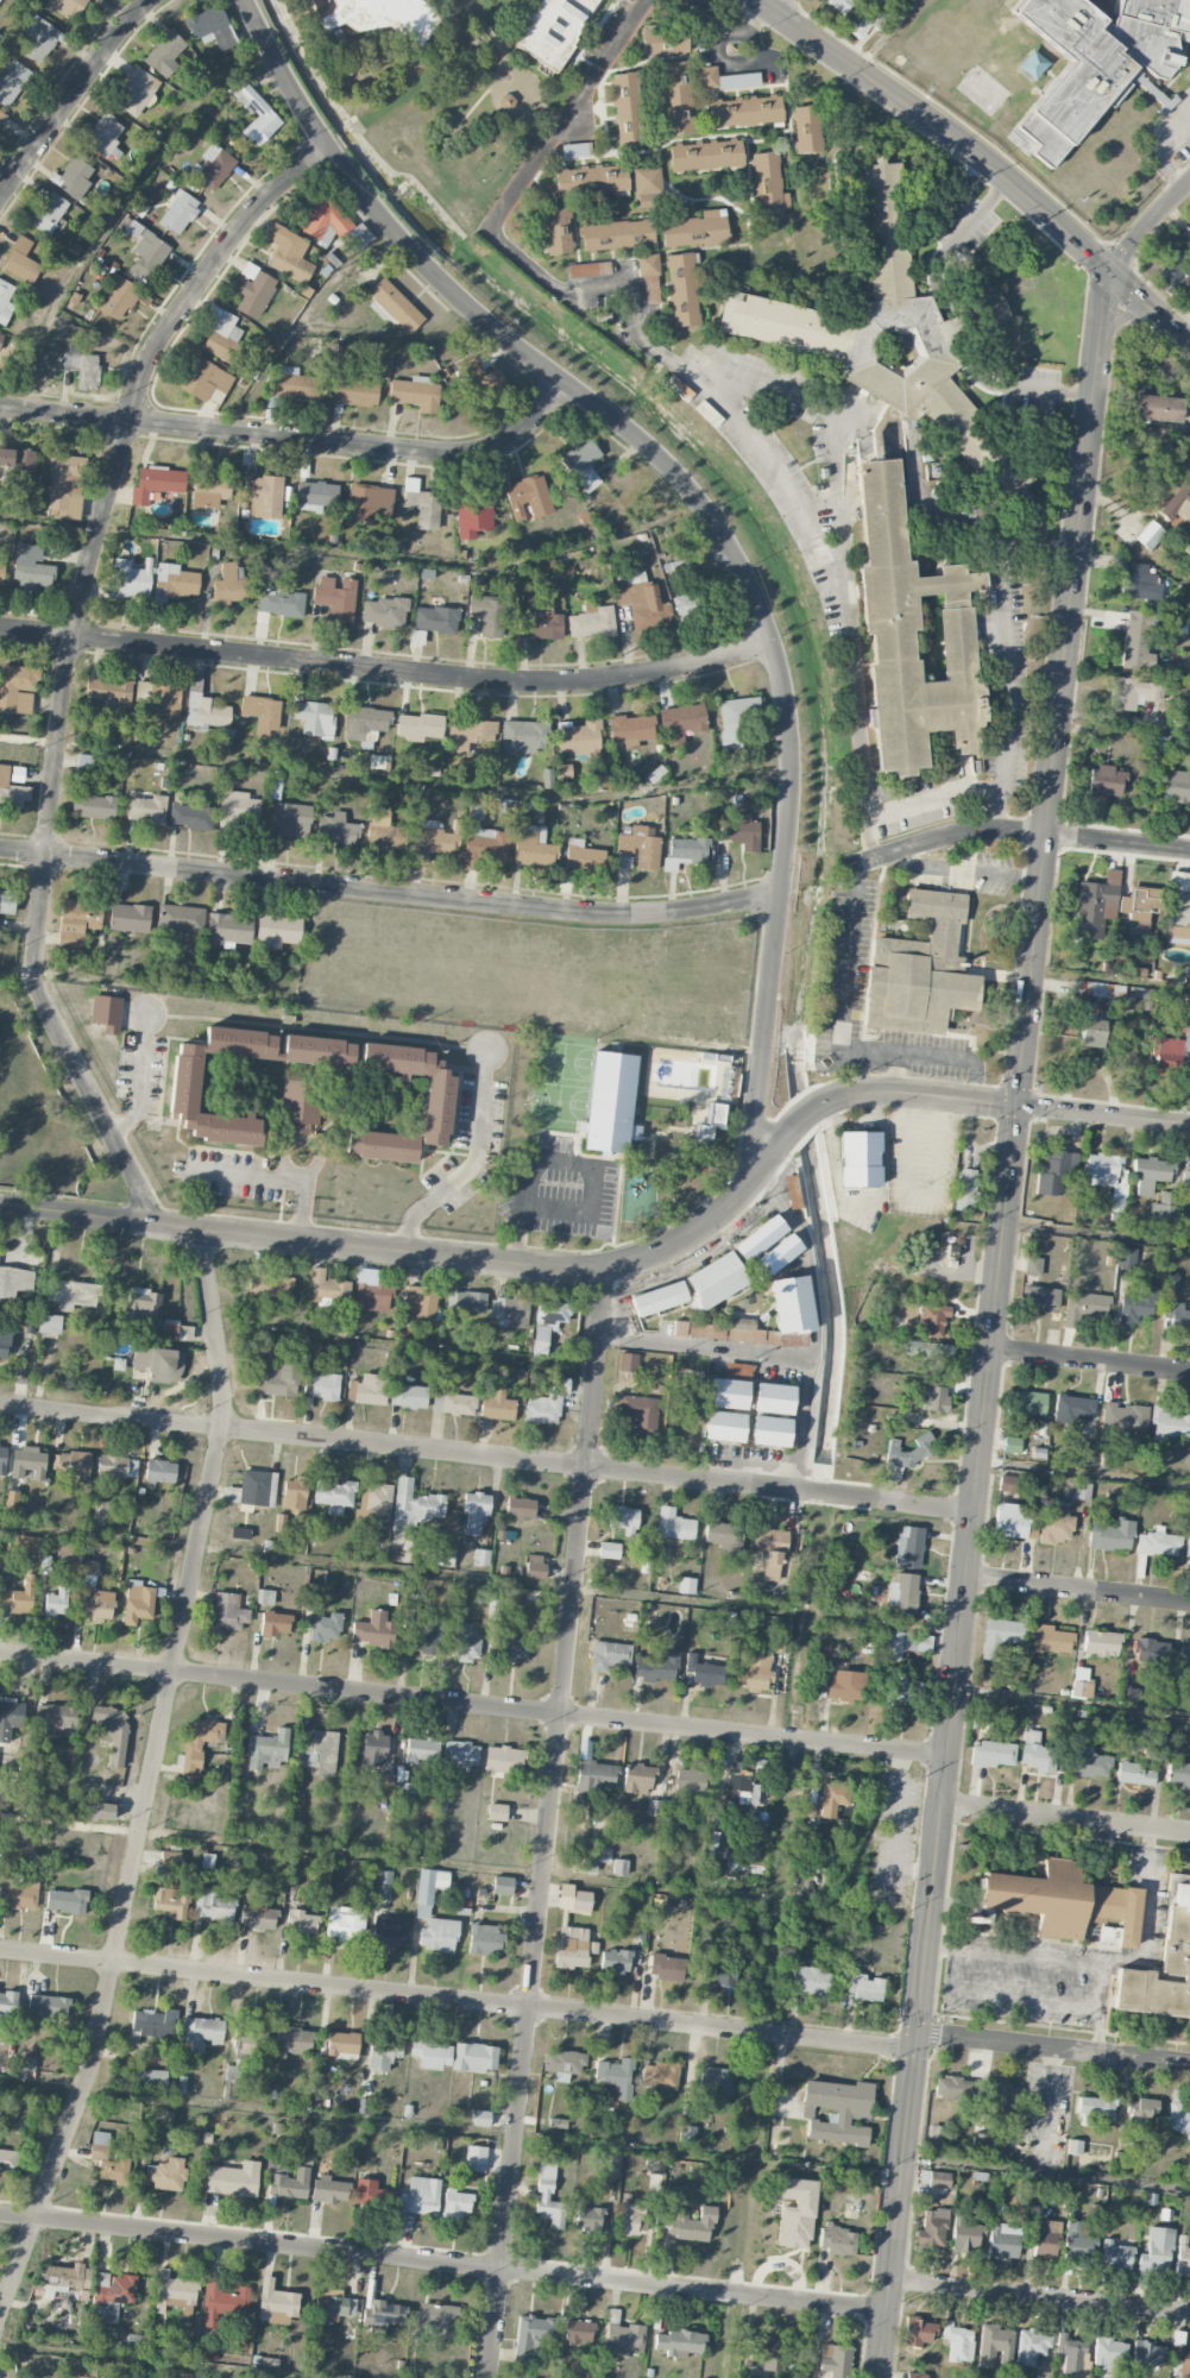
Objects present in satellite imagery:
road: (773, 5)
building: (839, 5)
building: (65, 7)
building: (380, 15)
road: (710, 19)
road: (749, 24)
building: (212, 27)
building: (553, 29)
road: (623, 31)
road: (888, 37)
building: (38, 40)
building: (663, 40)
building: (165, 54)
building: (1104, 58)
building: (706, 77)
building: (12, 82)
road: (70, 94)
building: (676, 97)
building: (627, 109)
building: (745, 111)
building: (257, 115)
building: (1, 117)
road: (934, 126)
building: (806, 128)
building: (103, 137)
road: (1156, 145)
building: (574, 150)
building: (706, 156)
building: (210, 168)
building: (75, 178)
building: (591, 180)
building: (646, 185)
building: (768, 187)
building: (178, 213)
building: (48, 214)
road: (1147, 224)
building: (334, 225)
building: (556, 231)
building: (695, 231)
building: (617, 235)
building: (325, 238)
building: (146, 251)
building: (289, 254)
building: (20, 260)
building: (1176, 264)
traffic signals: (1106, 268)
building: (588, 270)
building: (649, 277)
building: (682, 290)
building: (253, 291)
building: (118, 297)
building: (5, 301)
building: (395, 306)
road: (1147, 306)
building: (993, 309)
road: (298, 320)
road: (952, 325)
building: (874, 328)
road: (1188, 336)
building: (0, 338)
road: (386, 338)
building: (80, 365)
building: (203, 379)
building: (481, 380)
building: (297, 384)
building: (355, 392)
building: (415, 394)
building: (1157, 408)
road: (729, 409)
road: (831, 429)
road: (295, 439)
building: (581, 465)
building: (19, 466)
building: (156, 484)
building: (65, 486)
building: (209, 489)
building: (316, 496)
building: (263, 497)
building: (528, 498)
building: (1176, 499)
building: (369, 502)
road: (700, 503)
building: (420, 504)
building: (473, 518)
building: (1185, 533)
building: (1150, 536)
road: (355, 554)
building: (32, 568)
building: (1, 572)
building: (128, 579)
building: (176, 581)
building: (1139, 583)
building: (231, 586)
building: (335, 598)
building: (279, 600)
building: (643, 603)
building: (684, 608)
building: (384, 612)
building: (487, 615)
building: (435, 619)
building: (539, 619)
building: (592, 622)
building: (912, 635)
building: (416, 637)
building: (1137, 641)
road: (68, 663)
road: (388, 671)
road: (1006, 678)
road: (1058, 684)
building: (17, 688)
building: (109, 691)
building: (1131, 693)
building: (160, 697)
building: (203, 707)
building: (262, 712)
building: (314, 718)
building: (733, 721)
road: (1122, 721)
building: (364, 722)
building: (681, 723)
building: (418, 726)
building: (630, 730)
building: (470, 734)
building: (524, 736)
building: (578, 738)
building: (223, 740)
building: (1188, 746)
building: (86, 762)
building: (562, 772)
road: (396, 780)
building: (1106, 781)
building: (1177, 787)
building: (11, 791)
road: (949, 795)
building: (93, 806)
building: (146, 810)
building: (238, 810)
building: (191, 816)
building: (290, 820)
building: (336, 830)
building: (383, 831)
road: (1013, 831)
building: (741, 832)
building: (434, 839)
building: (484, 847)
building: (640, 847)
building: (533, 848)
building: (685, 853)
building: (583, 856)
road: (965, 870)
road: (393, 893)
building: (7, 902)
building: (1095, 906)
building: (1139, 907)
building: (1178, 910)
building: (130, 918)
building: (180, 918)
building: (77, 920)
building: (228, 929)
building: (277, 931)
building: (919, 970)
building: (1186, 974)
road: (146, 986)
building: (1101, 990)
building: (106, 1013)
road: (838, 1021)
building: (1091, 1033)
building: (317, 1051)
park: (581, 1052)
road: (143, 1058)
park: (560, 1081)
building: (184, 1086)
building: (298, 1102)
traffic signals: (1013, 1102)
building: (610, 1103)
building: (436, 1105)
road: (124, 1119)
building: (710, 1121)
road: (939, 1147)
road: (320, 1152)
road: (909, 1157)
building: (858, 1159)
road: (566, 1160)
road: (472, 1163)
building: (1054, 1171)
road: (238, 1174)
building: (1148, 1174)
building: (1104, 1175)
building: (1185, 1181)
parking lot: (558, 1187)
building: (965, 1189)
building: (792, 1193)
road: (868, 1203)
building: (1163, 1207)
road: (300, 1208)
road: (1094, 1232)
building: (758, 1238)
road: (725, 1244)
building: (777, 1254)
road: (807, 1257)
building: (1127, 1258)
road: (625, 1264)
building: (1032, 1266)
building: (714, 1281)
building: (14, 1282)
building: (270, 1283)
building: (1171, 1284)
road: (646, 1285)
building: (327, 1288)
building: (71, 1294)
building: (374, 1296)
building: (657, 1298)
building: (1039, 1298)
building: (466, 1302)
building: (420, 1303)
building: (791, 1304)
building: (1137, 1304)
building: (141, 1308)
building: (1084, 1308)
building: (509, 1311)
building: (1176, 1316)
building: (932, 1319)
building: (548, 1322)
building: (49, 1323)
building: (176, 1330)
building: (699, 1330)
building: (762, 1334)
building: (4, 1345)
road: (404, 1347)
road: (768, 1351)
building: (933, 1355)
road: (1088, 1359)
building: (627, 1363)
building: (158, 1364)
building: (738, 1371)
building: (277, 1379)
building: (367, 1390)
building: (728, 1394)
building: (409, 1397)
building: (934, 1397)
building: (773, 1398)
building: (547, 1401)
building: (452, 1403)
building: (497, 1405)
building: (1025, 1407)
building: (1072, 1409)
building: (637, 1411)
building: (1121, 1422)
building: (1169, 1424)
building: (724, 1427)
building: (769, 1432)
building: (1012, 1445)
building: (907, 1452)
building: (1087, 1453)
road: (484, 1455)
building: (2, 1459)
building: (1108, 1461)
building: (29, 1464)
building: (71, 1464)
building: (117, 1466)
building: (159, 1471)
road: (1081, 1472)
building: (1007, 1484)
building: (252, 1489)
building: (294, 1493)
building: (333, 1493)
building: (11, 1499)
building: (376, 1502)
building: (413, 1508)
building: (520, 1508)
building: (103, 1512)
building: (474, 1512)
building: (623, 1520)
building: (1012, 1521)
building: (673, 1525)
building: (1054, 1525)
building: (239, 1533)
building: (1110, 1534)
building: (723, 1536)
building: (1158, 1545)
building: (909, 1547)
building: (1188, 1548)
building: (609, 1550)
building: (772, 1553)
building: (442, 1555)
building: (481, 1558)
building: (535, 1567)
road: (959, 1571)
building: (89, 1573)
road: (477, 1579)
building: (686, 1585)
road: (1075, 1587)
building: (902, 1593)
building: (19, 1597)
building: (56, 1603)
building: (138, 1603)
building: (97, 1605)
building: (227, 1612)
building: (275, 1624)
building: (325, 1628)
building: (373, 1630)
building: (423, 1636)
building: (1000, 1636)
building: (1049, 1640)
building: (465, 1643)
building: (1101, 1643)
building: (894, 1646)
building: (514, 1648)
building: (607, 1655)
building: (1152, 1655)
building: (1184, 1656)
building: (656, 1667)
building: (756, 1671)
building: (704, 1672)
building: (1081, 1684)
building: (843, 1685)
building: (896, 1688)
building: (1127, 1694)
road: (1069, 1701)
road: (470, 1706)
building: (10, 1717)
building: (59, 1718)
building: (111, 1732)
building: (200, 1744)
building: (373, 1749)
building: (266, 1750)
building: (319, 1751)
building: (421, 1751)
building: (991, 1754)
building: (1035, 1754)
building: (460, 1755)
building: (503, 1760)
building: (1089, 1763)
building: (1178, 1773)
building: (1134, 1774)
road: (152, 1775)
building: (592, 1775)
building: (637, 1779)
building: (690, 1781)
building: (384, 1785)
building: (738, 1786)
building: (835, 1798)
building: (99, 1812)
building: (497, 1812)
building: (661, 1816)
road: (1062, 1818)
road: (549, 1823)
road: (899, 1825)
building: (170, 1860)
building: (619, 1867)
road: (460, 1868)
building: (383, 1885)
building: (502, 1886)
building: (428, 1889)
building: (18, 1892)
building: (573, 1899)
building: (65, 1901)
building: (171, 1902)
building: (1064, 1904)
building: (214, 1906)
road: (1142, 1912)
building: (257, 1918)
building: (302, 1923)
building: (345, 1924)
building: (389, 1932)
road: (770, 1935)
building: (437, 1936)
building: (485, 1939)
building: (573, 1948)
road: (937, 1949)
building: (615, 1962)
building: (1163, 1964)
building: (666, 1968)
building: (720, 1969)
building: (812, 1980)
building: (863, 1987)
road: (454, 2000)
building: (8, 2002)
building: (48, 2007)
road: (1098, 2009)
building: (153, 2024)
building: (201, 2033)
road: (1096, 2033)
building: (248, 2039)
traffic signals: (908, 2040)
building: (291, 2042)
road: (1001, 2043)
building: (342, 2045)
building: (432, 2053)
building: (382, 2056)
building: (473, 2057)
road: (1142, 2059)
building: (27, 2063)
building: (562, 2064)
building: (660, 2075)
building: (151, 2078)
building: (616, 2080)
building: (717, 2086)
building: (951, 2089)
building: (1002, 2099)
building: (1096, 2106)
building: (364, 2107)
building: (838, 2110)
building: (1141, 2113)
building: (480, 2119)
building: (1179, 2121)
road: (446, 2128)
building: (687, 2133)
building: (980, 2141)
building: (99, 2146)
building: (1073, 2147)
building: (474, 2158)
building: (1120, 2159)
building: (8, 2160)
building: (654, 2166)
building: (115, 2171)
road: (1043, 2171)
building: (164, 2177)
building: (232, 2179)
building: (939, 2179)
building: (287, 2182)
building: (328, 2190)
building: (371, 2194)
building: (420, 2196)
building: (548, 2197)
building: (455, 2203)
road: (888, 2208)
building: (794, 2212)
building: (588, 2219)
building: (631, 2219)
building: (686, 2219)
building: (932, 2228)
building: (965, 2235)
building: (1045, 2239)
building: (837, 2241)
building: (1002, 2244)
building: (1077, 2244)
building: (1157, 2250)
building: (1115, 2256)
building: (1182, 2258)
road: (439, 2264)
building: (64, 2281)
building: (111, 2295)
road: (1035, 2295)
building: (222, 2302)
building: (334, 2302)
building: (276, 2303)
building: (385, 2316)
building: (436, 2320)
building: (578, 2332)
building: (919, 2332)
building: (530, 2336)
building: (624, 2339)
building: (678, 2342)
building: (957, 2342)
building: (994, 2346)
building: (1031, 2347)
building: (768, 2353)
building: (1070, 2353)
building: (1146, 2355)
building: (1109, 2358)
building: (836, 2360)
road: (144, 2361)
building: (1184, 2365)
building: (915, 2376)

